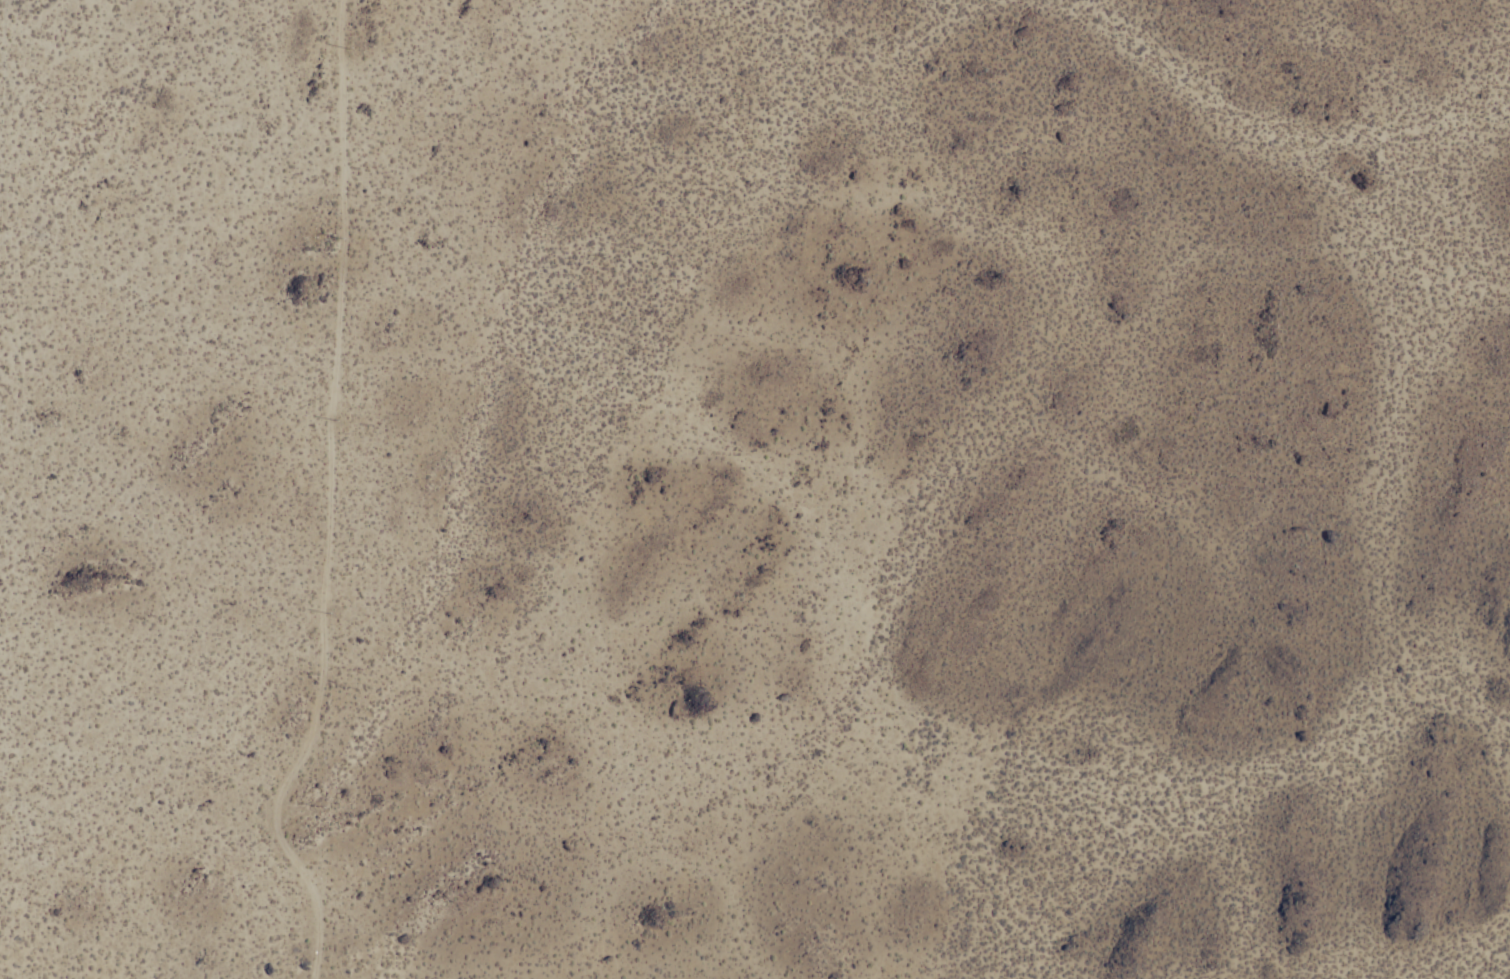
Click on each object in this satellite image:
road: (326, 499)

